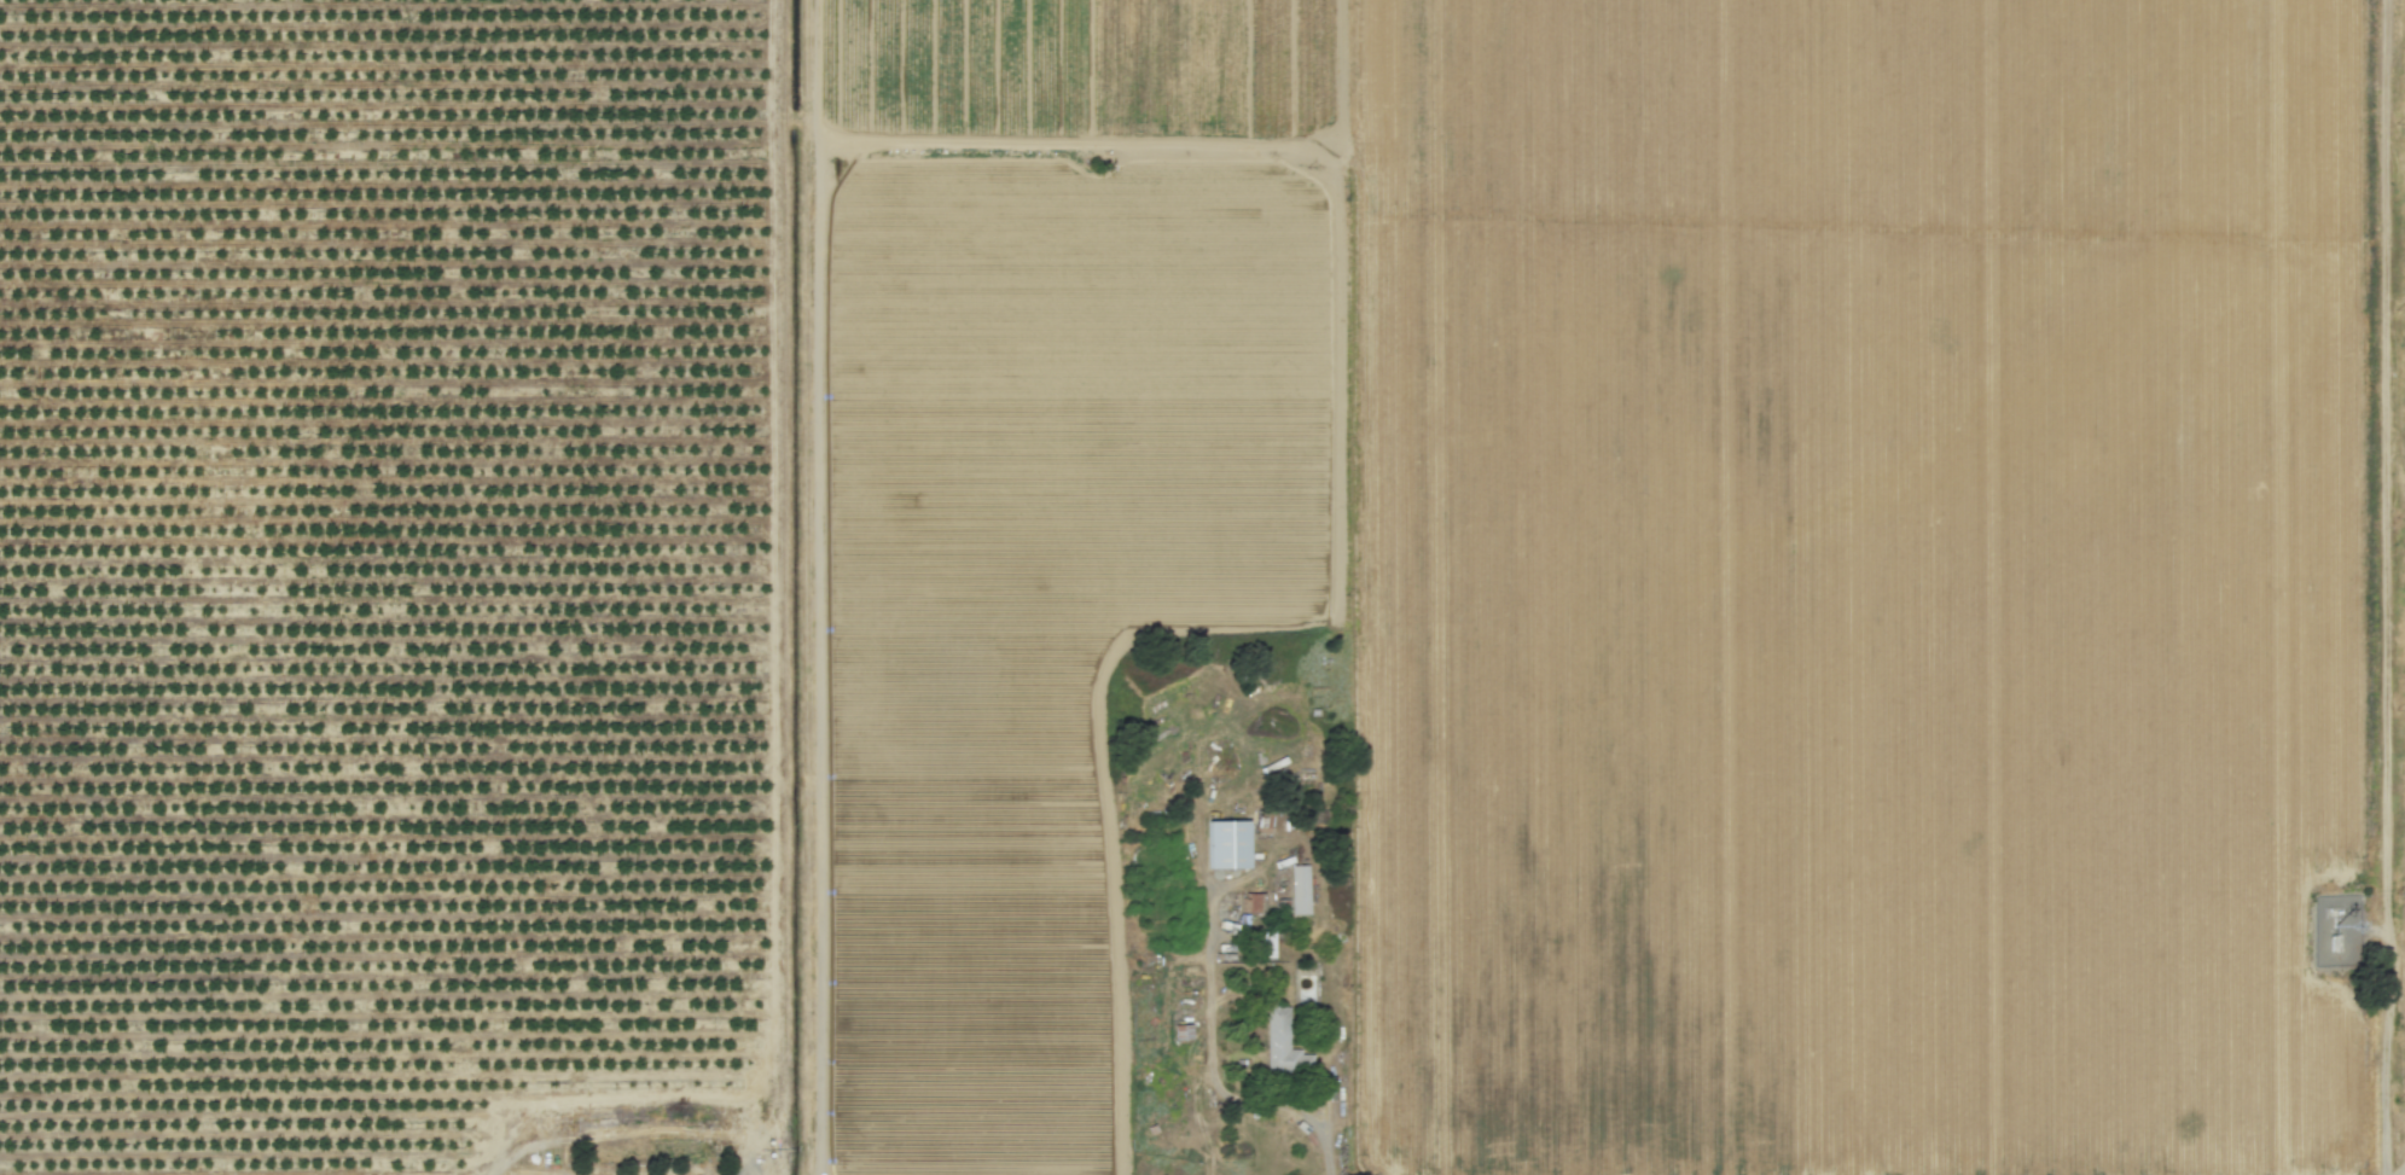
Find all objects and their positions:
road: (2382, 587)
building: (1226, 844)
building: (1297, 889)
building: (1282, 1042)
road: (1209, 1052)

